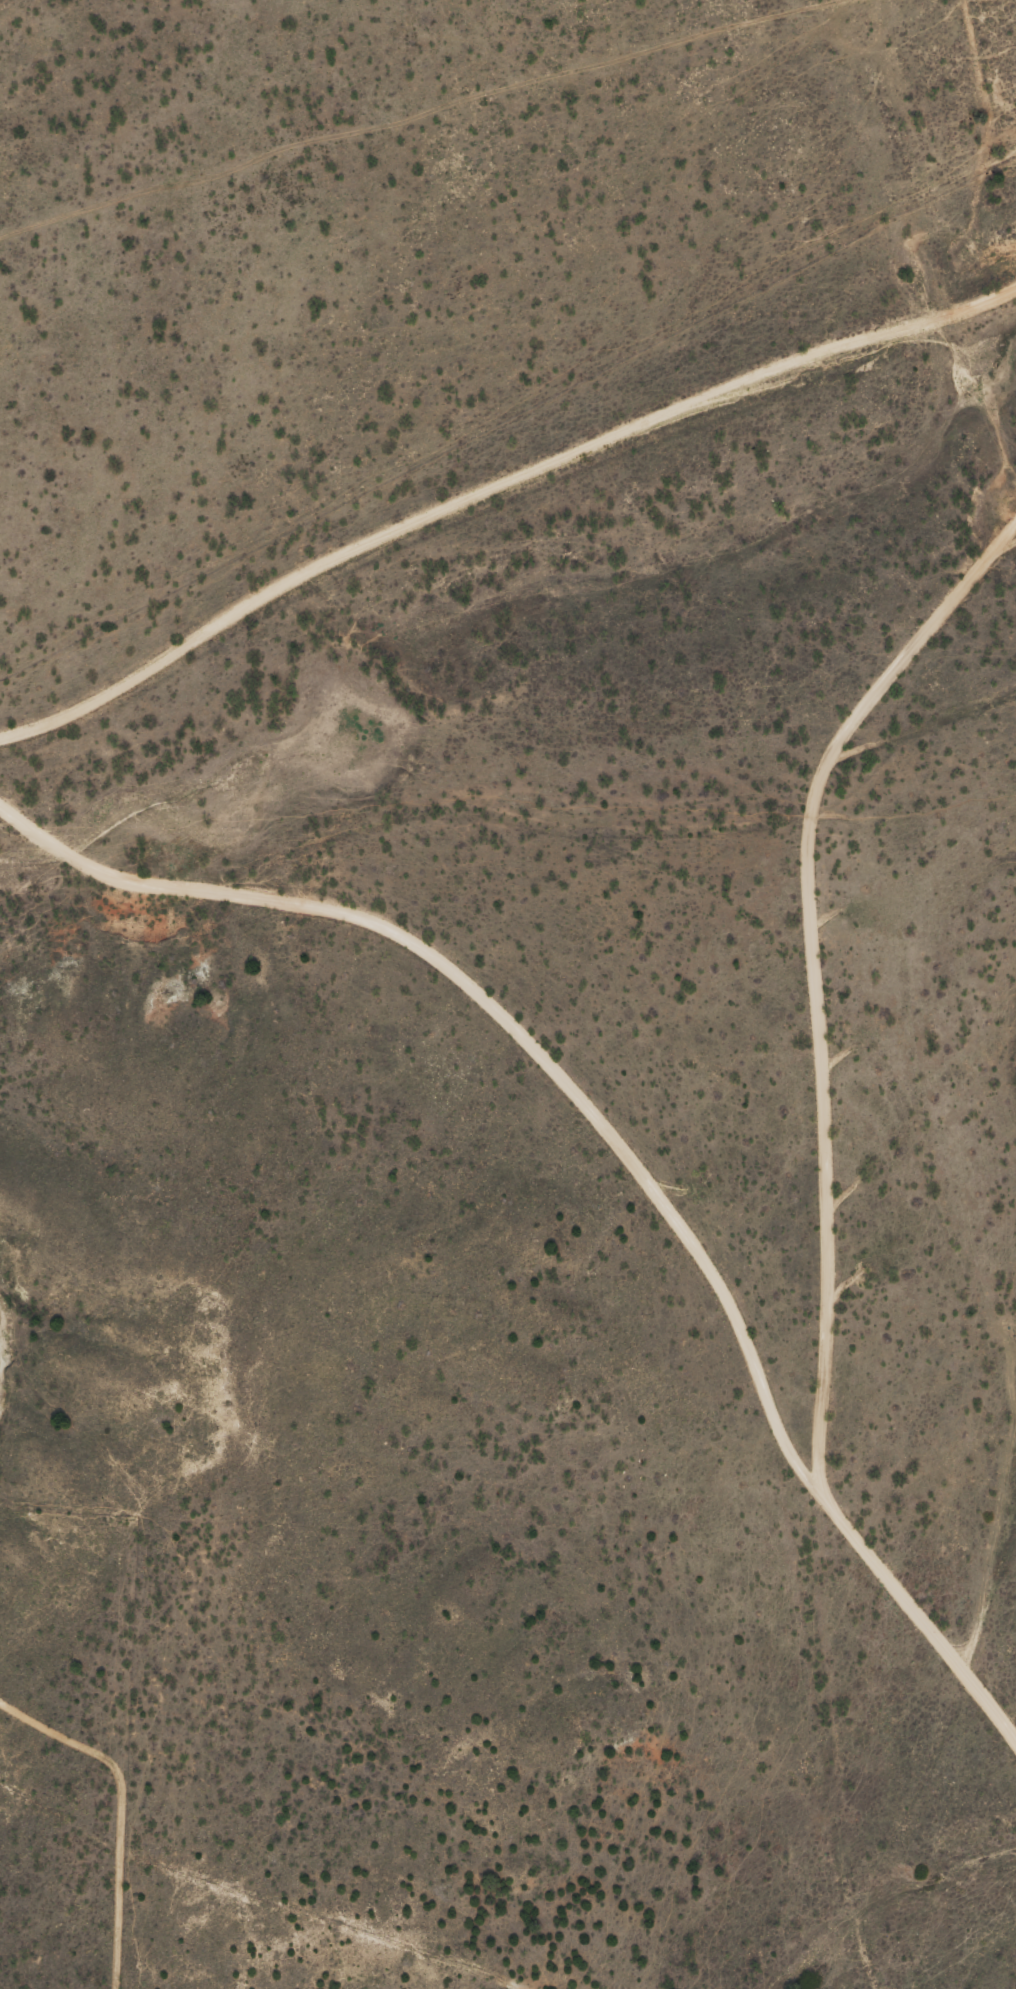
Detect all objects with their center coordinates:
road: (489, 492)
road: (514, 846)
road: (941, 908)
road: (942, 1064)
road: (918, 1787)

